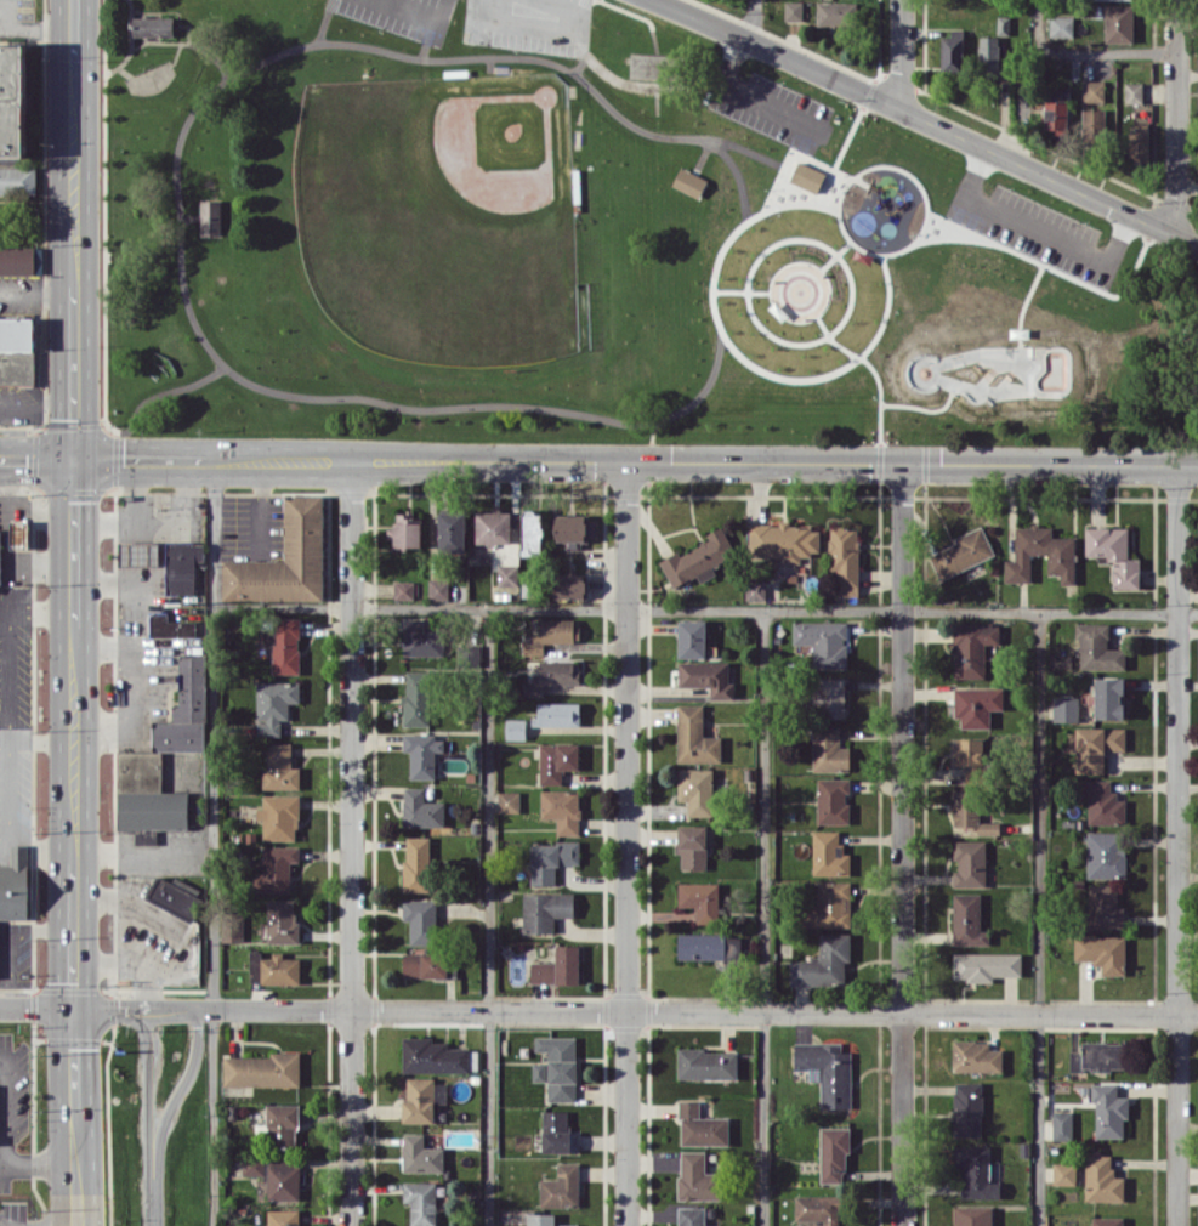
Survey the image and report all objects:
building: (793, 10)
building: (836, 12)
road: (751, 19)
building: (1118, 23)
building: (153, 25)
building: (1061, 25)
road: (36, 30)
building: (952, 51)
road: (1084, 51)
road: (901, 55)
building: (989, 55)
building: (651, 66)
building: (1094, 90)
building: (1134, 92)
road: (746, 95)
building: (12, 100)
building: (1056, 114)
road: (1176, 117)
road: (929, 121)
building: (1094, 121)
building: (1137, 144)
road: (73, 146)
building: (807, 176)
building: (17, 180)
building: (689, 182)
building: (210, 217)
road: (1035, 232)
park: (583, 242)
building: (16, 260)
road: (36, 290)
road: (73, 374)
traffic signals: (73, 456)
road: (598, 459)
road: (158, 521)
building: (494, 527)
building: (573, 529)
building: (405, 530)
building: (452, 530)
building: (532, 532)
building: (19, 533)
road: (73, 540)
building: (784, 541)
road: (138, 547)
building: (138, 552)
building: (963, 552)
building: (0, 554)
building: (1113, 554)
building: (1061, 556)
building: (845, 557)
building: (284, 558)
building: (698, 558)
building: (182, 566)
building: (507, 574)
building: (569, 585)
building: (403, 589)
building: (438, 589)
building: (754, 590)
road: (705, 608)
road: (41, 613)
road: (5, 614)
building: (170, 626)
building: (551, 634)
building: (421, 638)
building: (691, 638)
building: (823, 641)
building: (283, 643)
building: (1097, 647)
building: (970, 651)
building: (552, 675)
road: (8, 676)
building: (706, 677)
road: (138, 687)
building: (829, 696)
building: (1109, 697)
building: (416, 698)
building: (976, 704)
building: (274, 705)
building: (1064, 709)
building: (557, 713)
road: (4, 717)
building: (515, 728)
building: (178, 736)
building: (695, 736)
road: (41, 740)
building: (1096, 745)
building: (829, 750)
building: (422, 754)
building: (970, 755)
building: (556, 761)
building: (280, 767)
building: (697, 790)
road: (6, 793)
building: (833, 800)
building: (509, 801)
building: (1105, 802)
building: (421, 808)
building: (562, 808)
building: (971, 812)
building: (279, 817)
road: (212, 841)
road: (351, 841)
road: (625, 842)
road: (901, 844)
road: (1176, 845)
building: (692, 846)
road: (40, 847)
road: (143, 851)
building: (829, 853)
building: (1106, 853)
building: (551, 859)
building: (416, 863)
building: (970, 863)
building: (276, 869)
building: (15, 884)
building: (171, 896)
building: (700, 899)
building: (829, 906)
building: (1105, 906)
building: (545, 910)
road: (488, 916)
road: (762, 916)
road: (1038, 918)
building: (282, 920)
building: (421, 920)
building: (967, 920)
road: (76, 924)
building: (232, 931)
road: (178, 935)
building: (151, 938)
road: (11, 940)
building: (702, 944)
building: (1102, 952)
building: (823, 963)
building: (428, 964)
road: (113, 965)
building: (986, 965)
building: (557, 966)
building: (273, 967)
traffic signals: (76, 1008)
road: (598, 1010)
building: (432, 1056)
building: (976, 1056)
building: (1096, 1056)
building: (706, 1063)
building: (560, 1066)
building: (262, 1069)
building: (538, 1071)
building: (827, 1071)
building: (419, 1100)
building: (967, 1108)
road: (5, 1109)
building: (1108, 1109)
road: (151, 1117)
building: (1062, 1125)
building: (700, 1126)
building: (557, 1131)
building: (833, 1152)
building: (420, 1154)
road: (2, 1165)
road: (41, 1165)
building: (252, 1165)
building: (975, 1171)
building: (1063, 1173)
building: (697, 1177)
building: (284, 1179)
building: (1102, 1179)
building: (561, 1186)
building: (421, 1202)
building: (821, 1208)
building: (972, 1215)
building: (691, 1216)
building: (282, 1218)
building: (544, 1220)
building: (1107, 1220)
road: (45, 1224)

